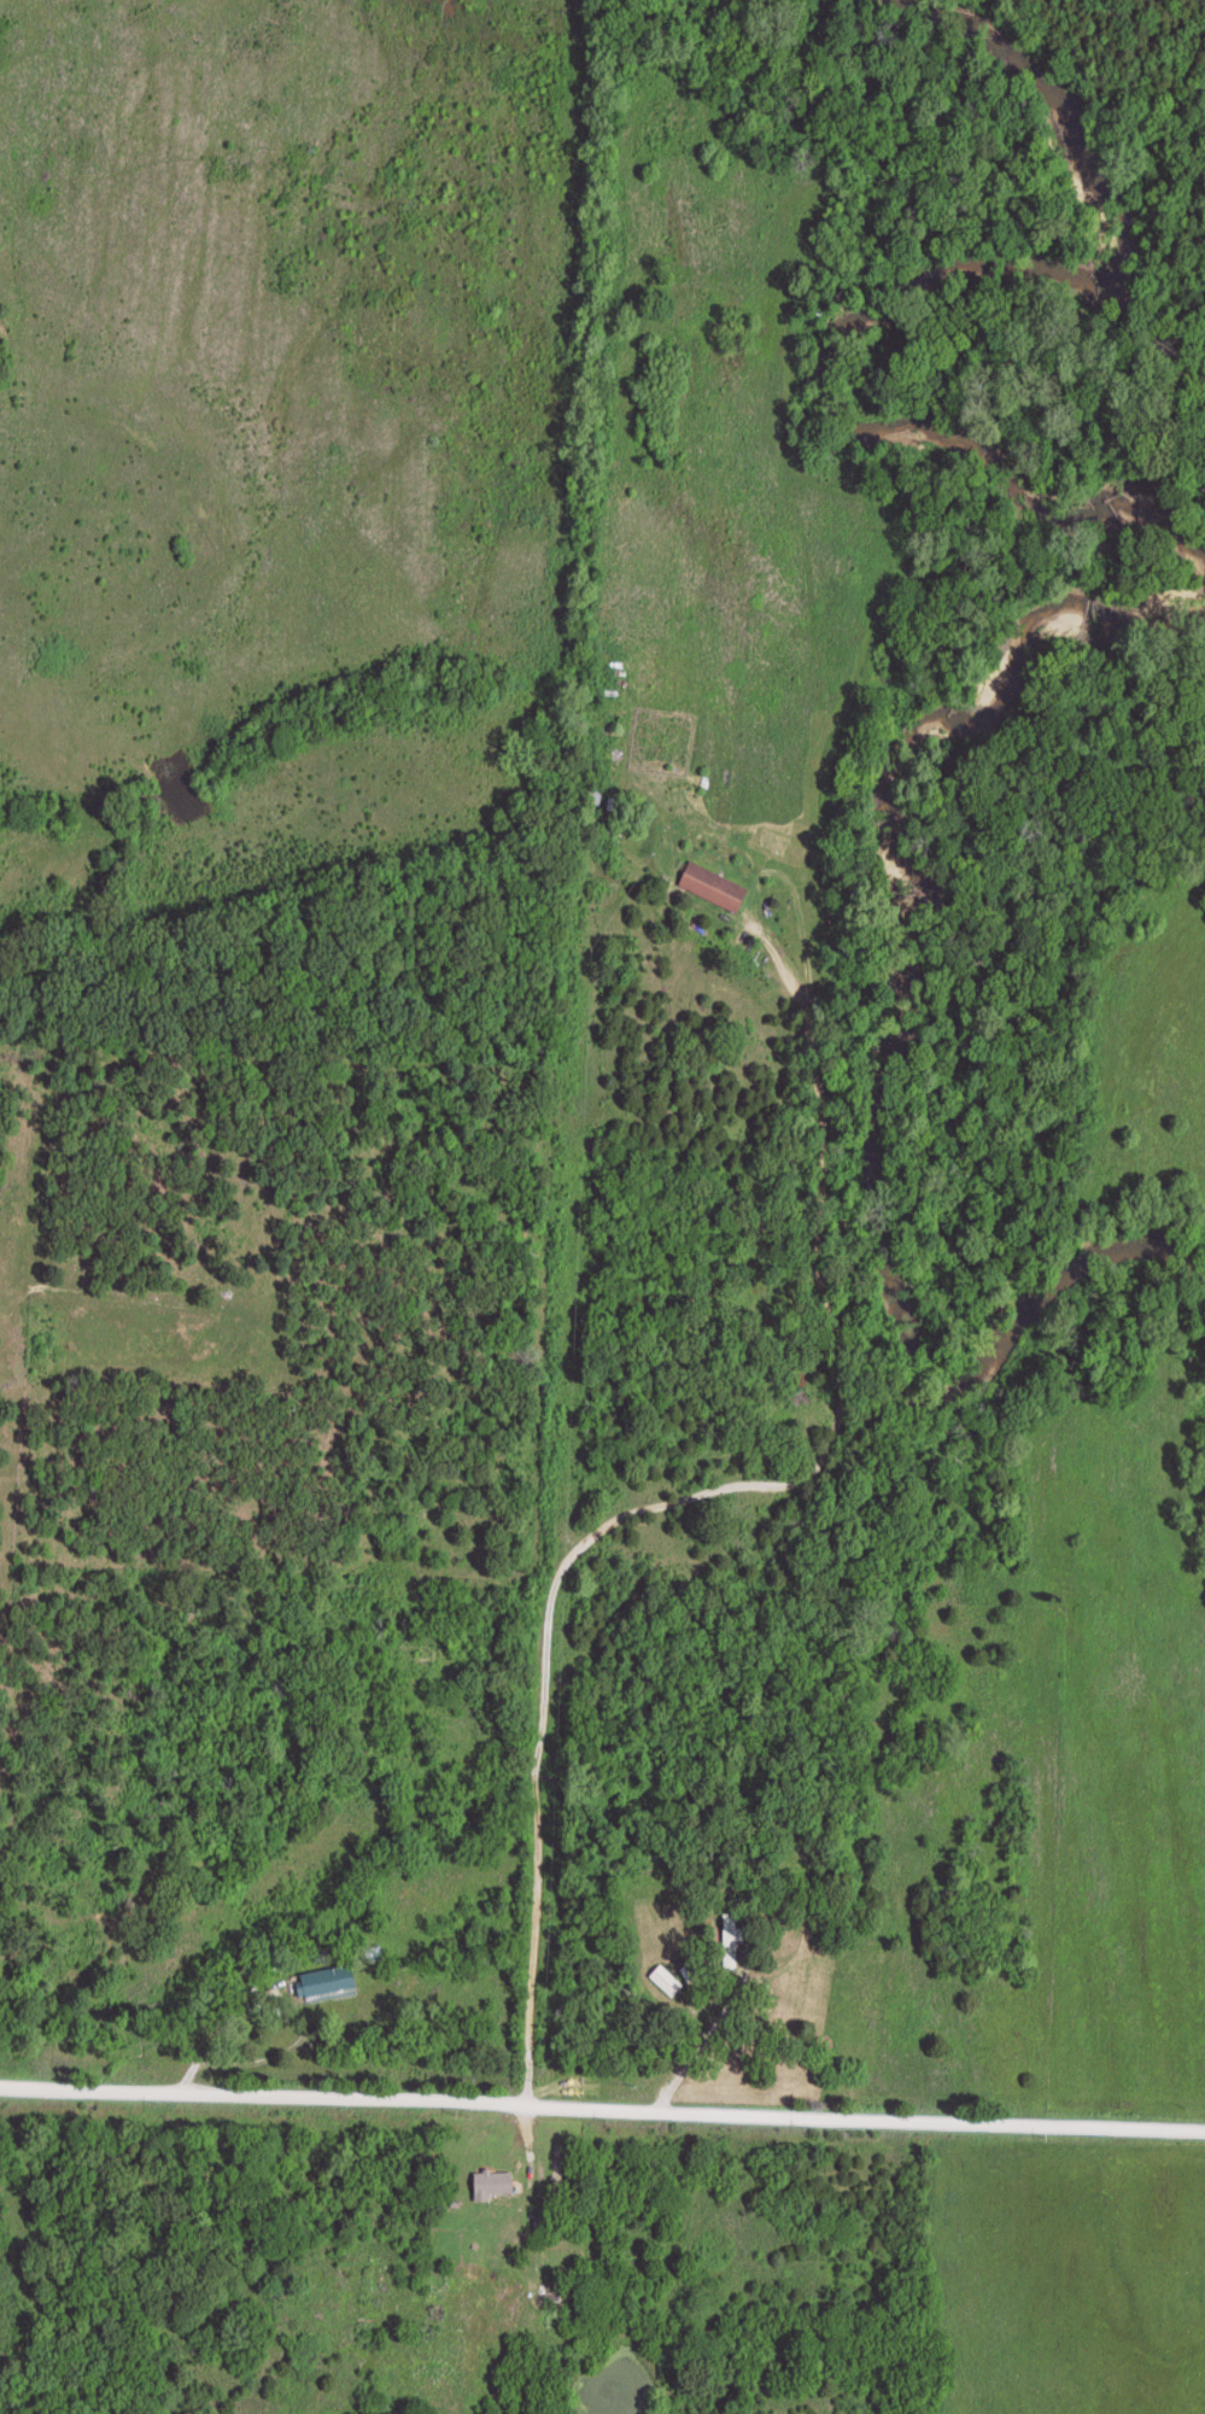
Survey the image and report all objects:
building: (713, 884)
building: (732, 1940)
building: (373, 1952)
building: (667, 1980)
building: (321, 1982)
road: (602, 2110)
building: (493, 2184)
building: (551, 2293)

